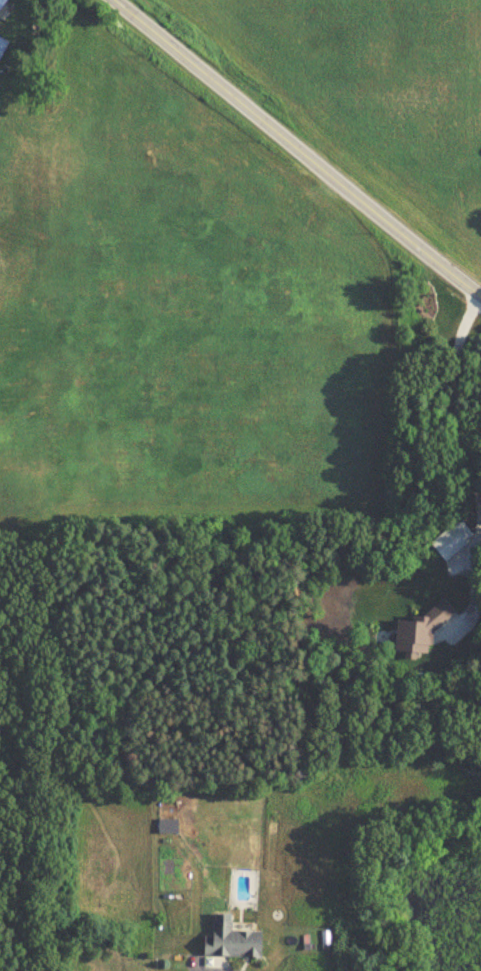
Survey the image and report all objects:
building: (1, 2)
building: (2, 44)
road: (297, 149)
road: (454, 400)
building: (416, 634)
building: (229, 940)
road: (207, 969)

